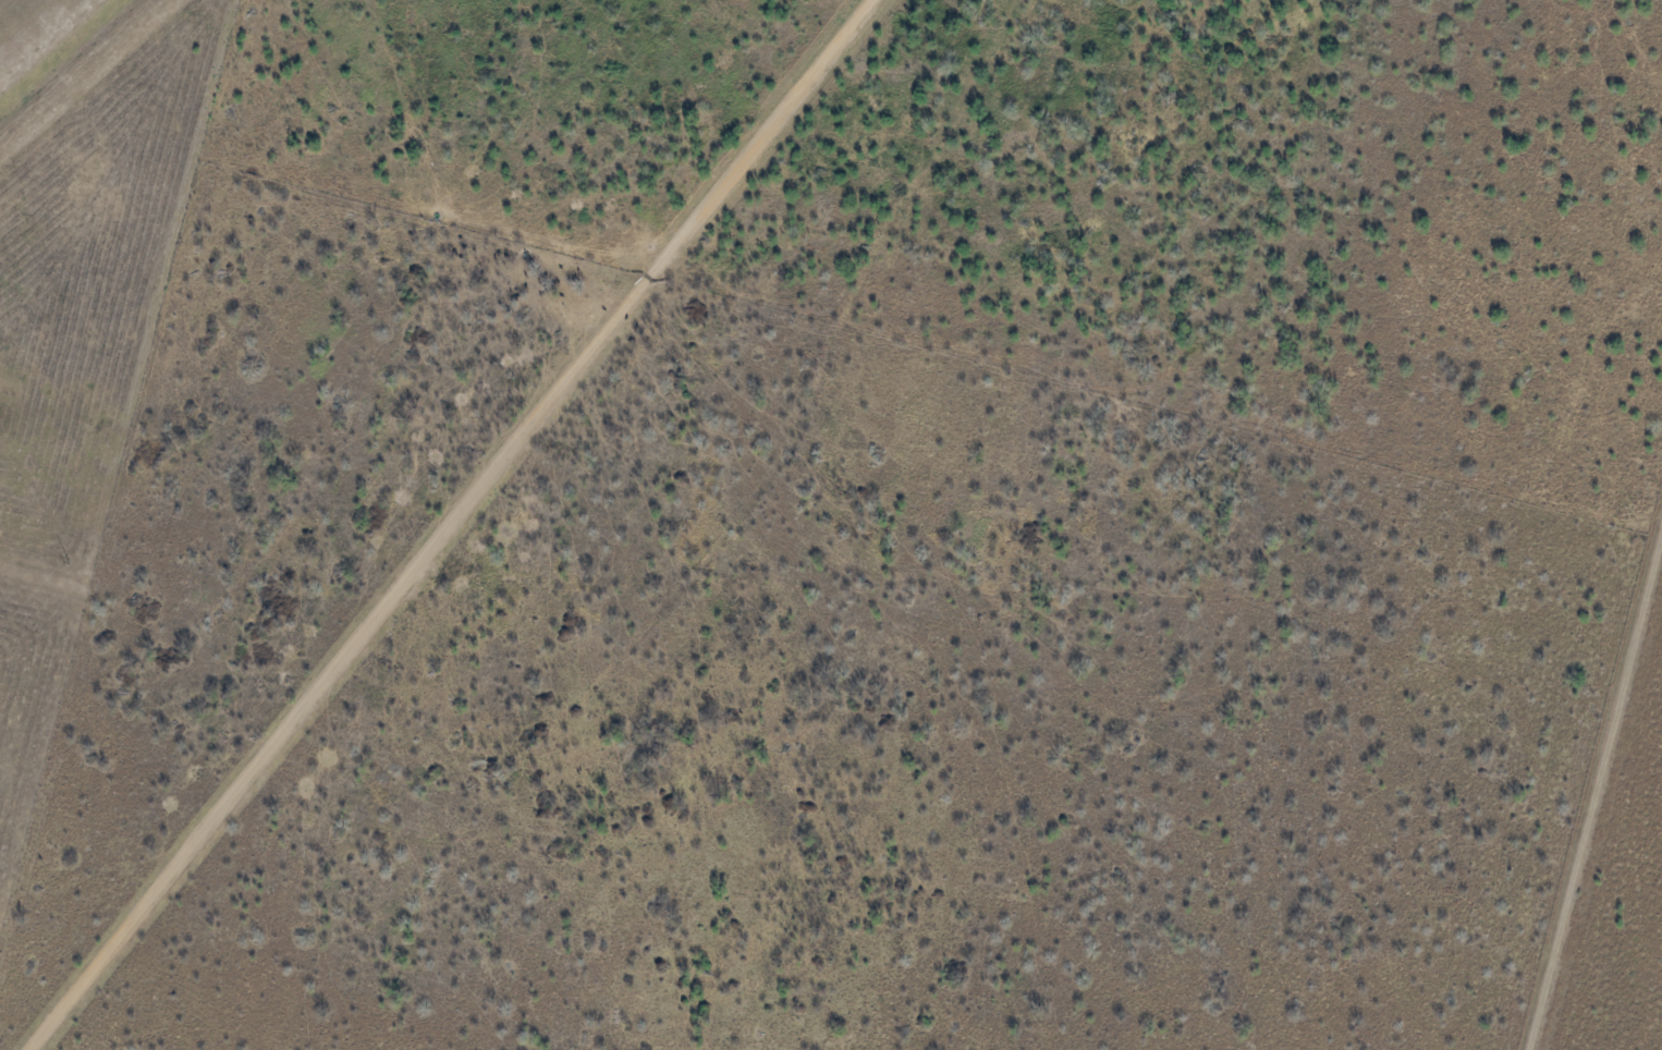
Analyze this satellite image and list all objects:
road: (441, 525)

